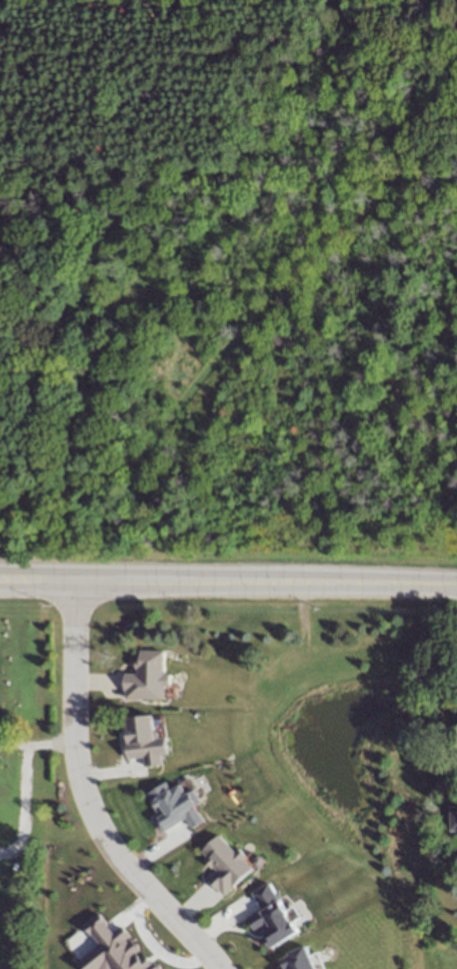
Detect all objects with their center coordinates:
road: (167, 59)
park: (228, 282)
road: (268, 300)
road: (9, 386)
road: (452, 398)
road: (19, 416)
road: (228, 582)
building: (148, 677)
park: (30, 690)
building: (145, 741)
road: (36, 742)
building: (439, 767)
road: (86, 796)
road: (21, 804)
building: (176, 806)
building: (453, 819)
building: (226, 865)
building: (272, 918)
building: (112, 948)
building: (300, 960)

